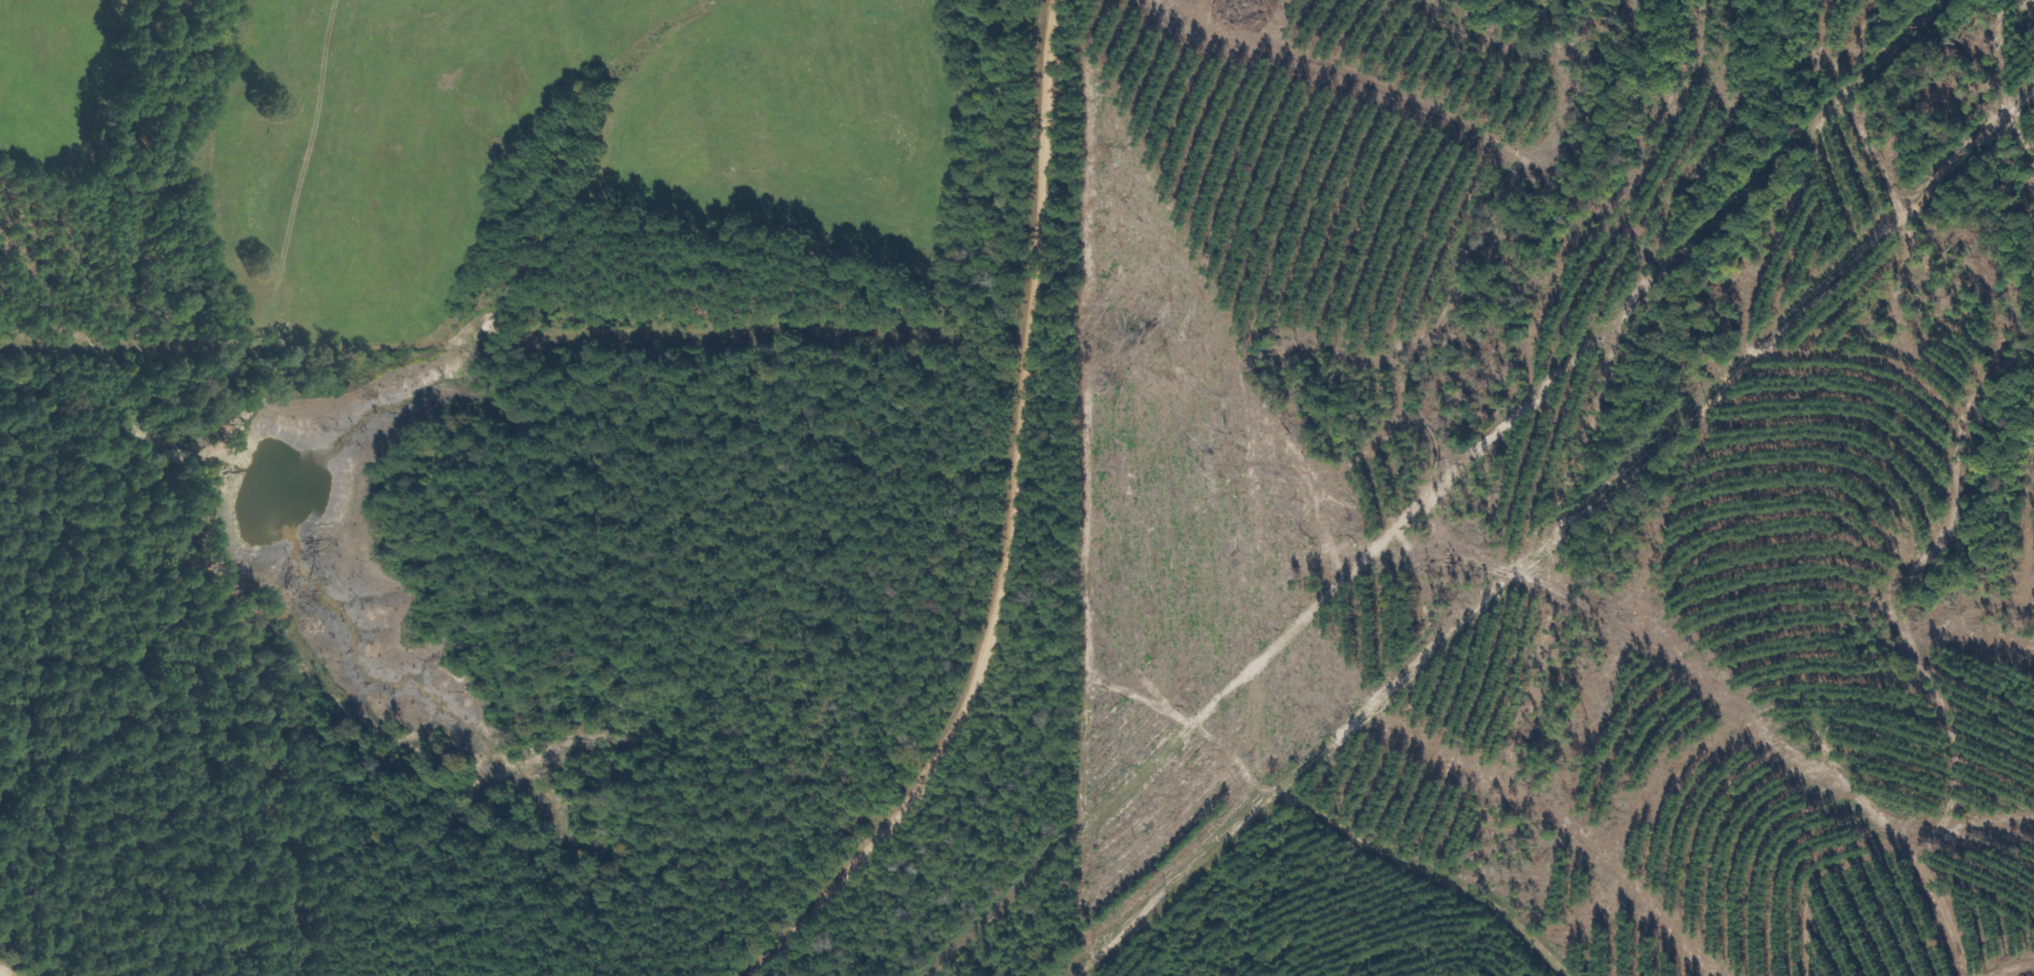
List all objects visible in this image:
road: (1014, 528)

